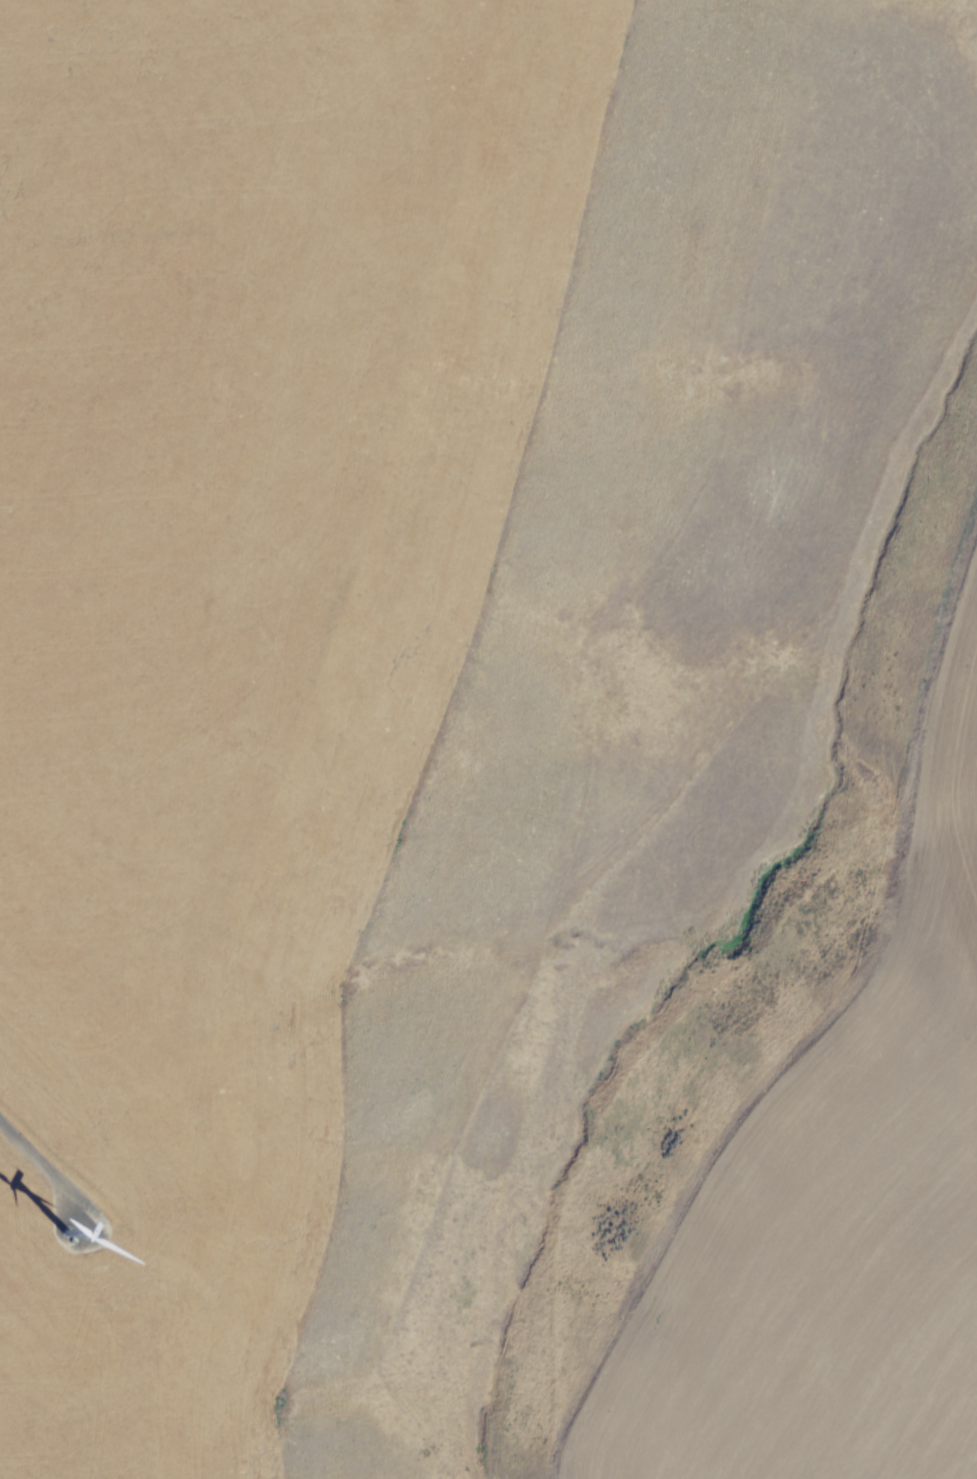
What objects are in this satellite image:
road: (52, 1175)
wind turbine: (80, 1230)

